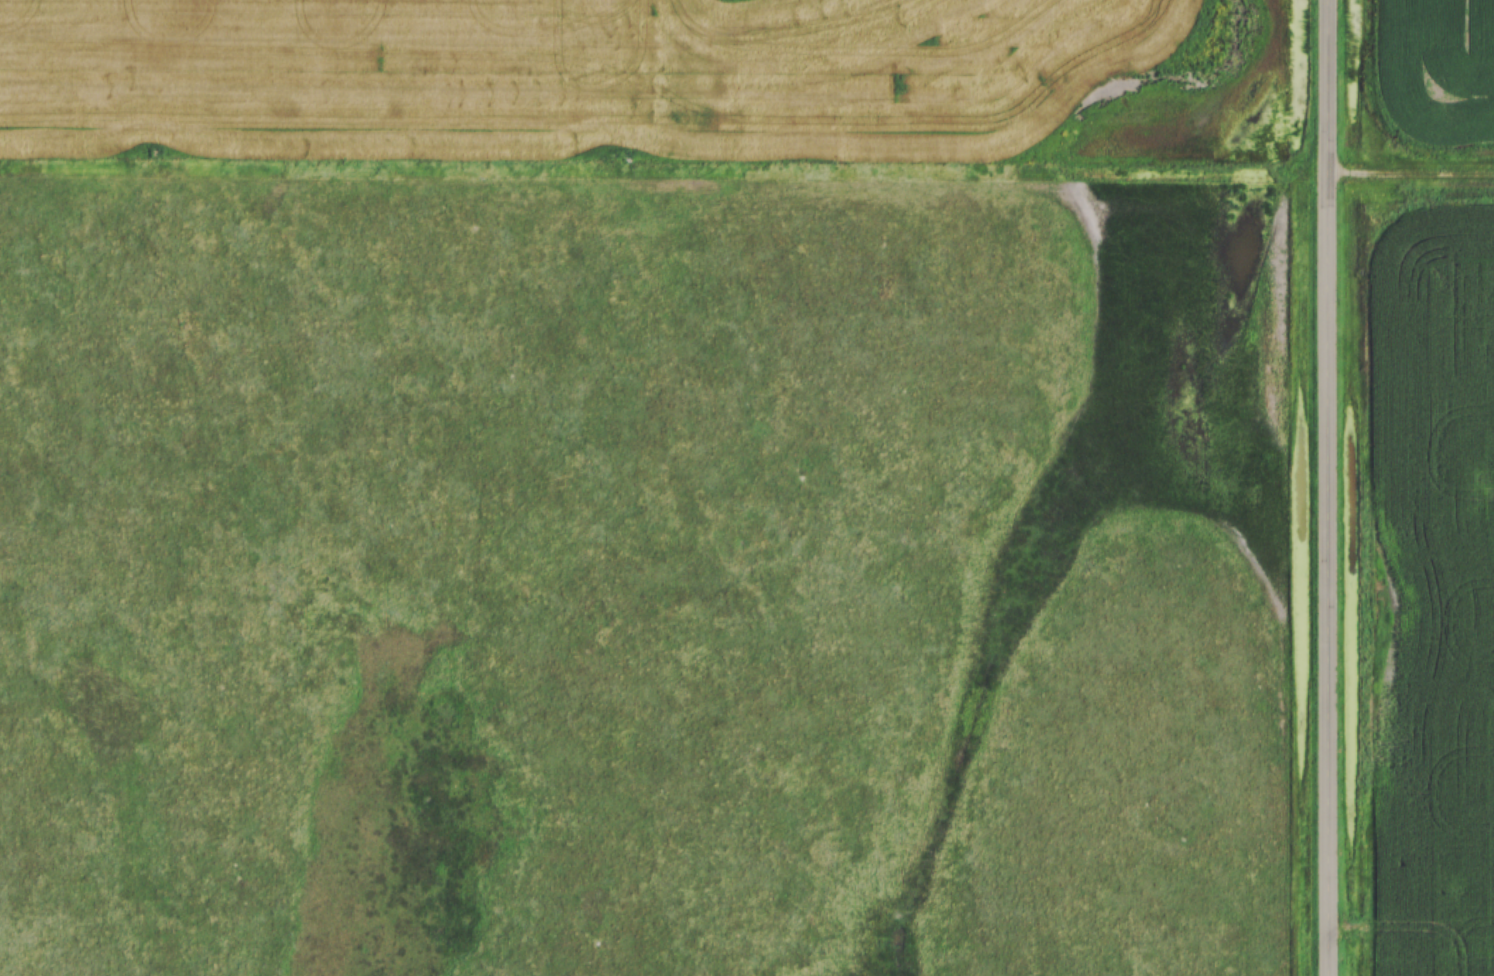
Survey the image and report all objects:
road: (1411, 176)
road: (1330, 487)

